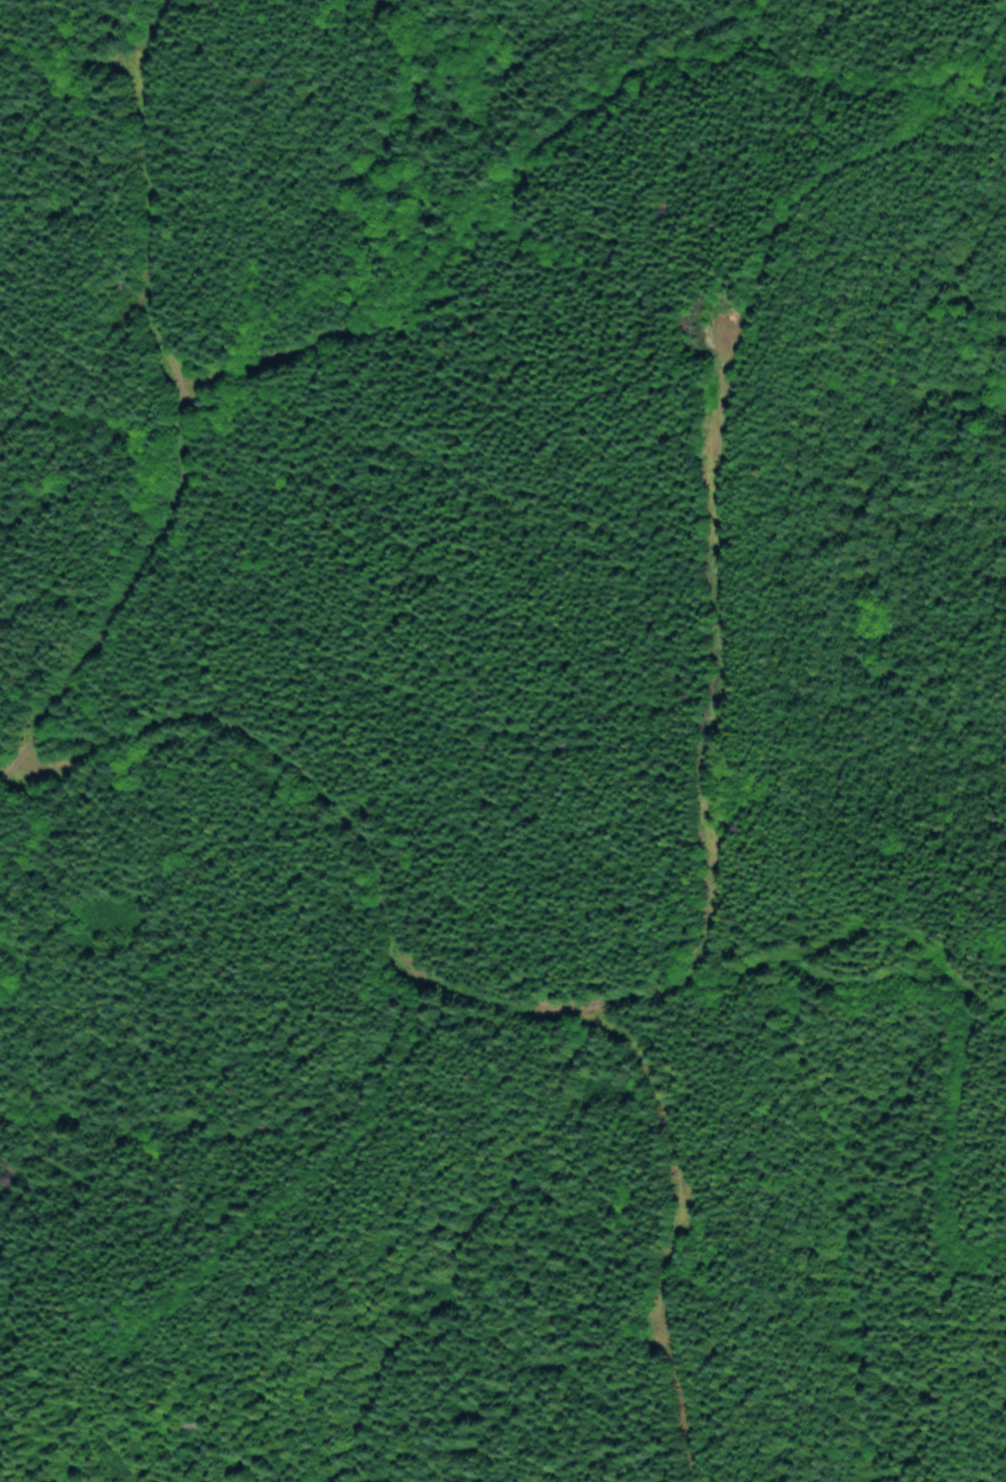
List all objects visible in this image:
road: (156, 428)

